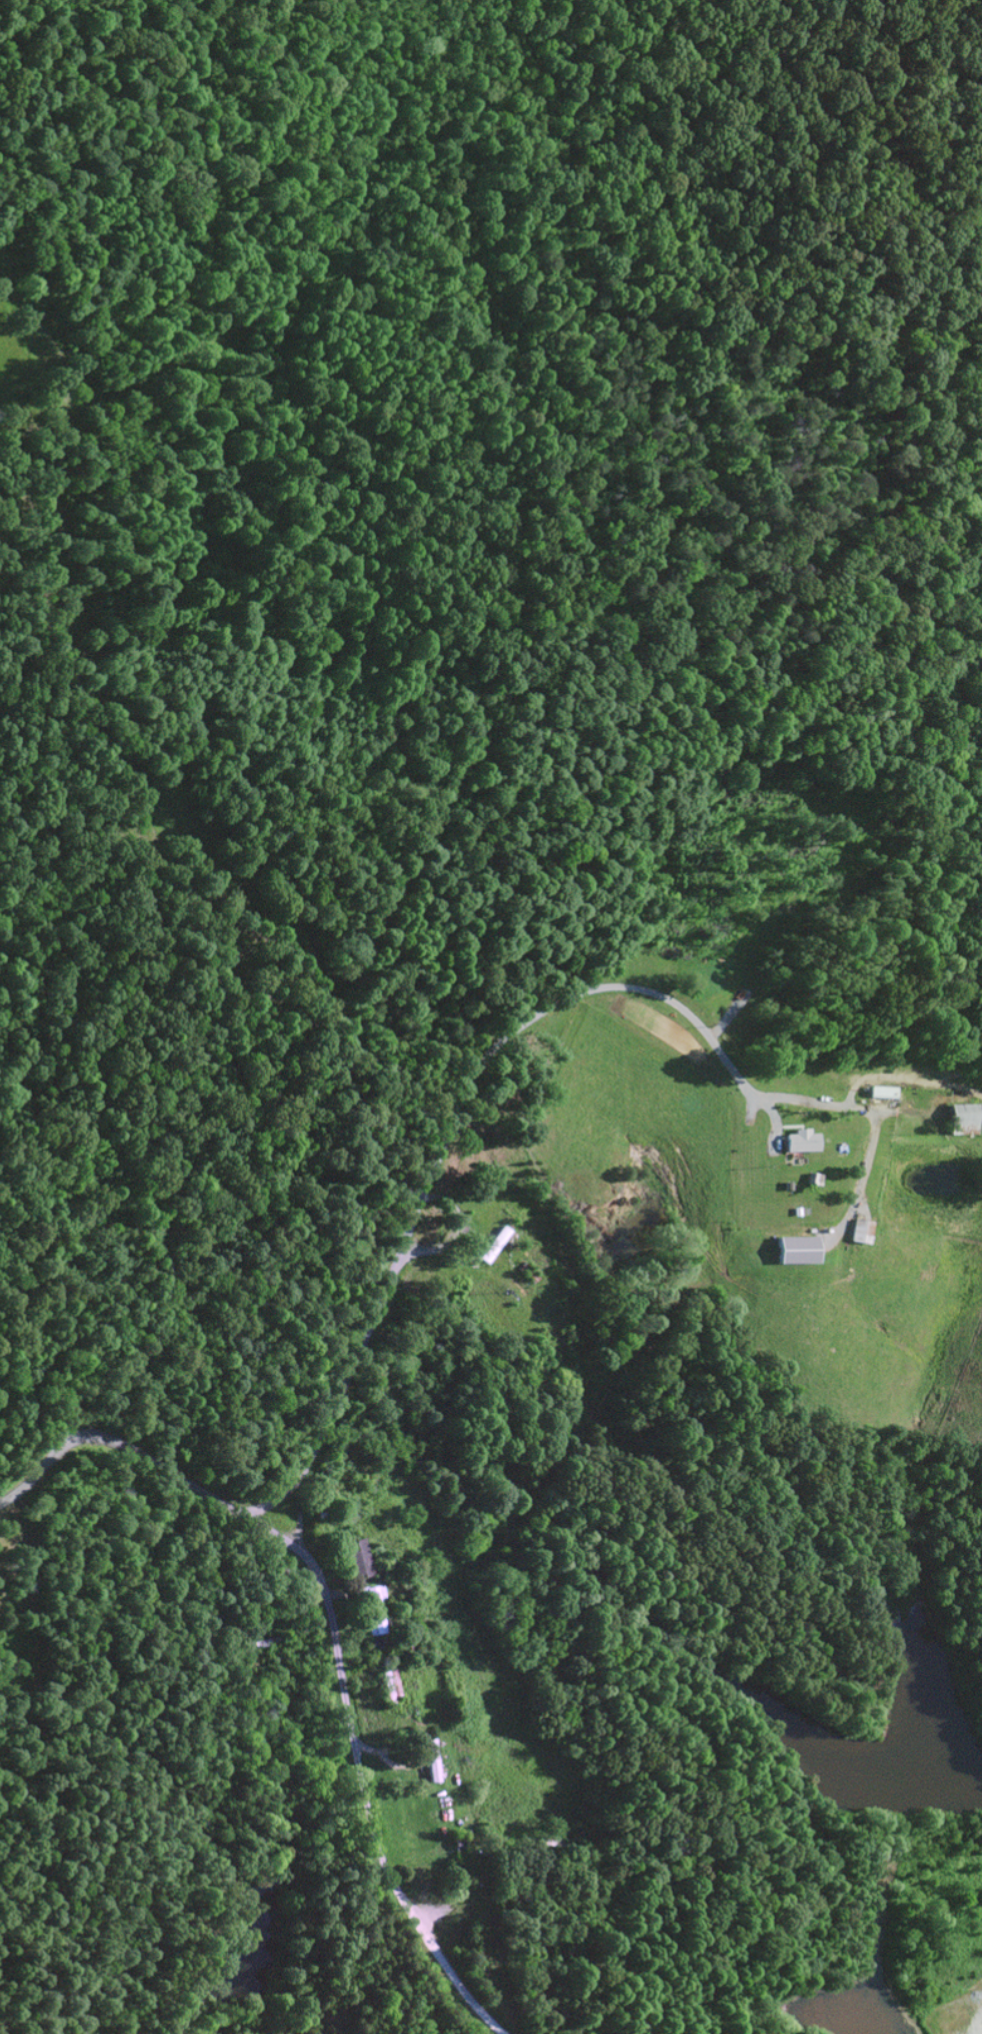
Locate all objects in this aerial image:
building: (962, 1119)
road: (441, 1141)
building: (801, 1141)
building: (860, 1231)
building: (797, 1250)
road: (273, 1496)
building: (359, 1559)
building: (371, 1609)
road: (330, 1631)

